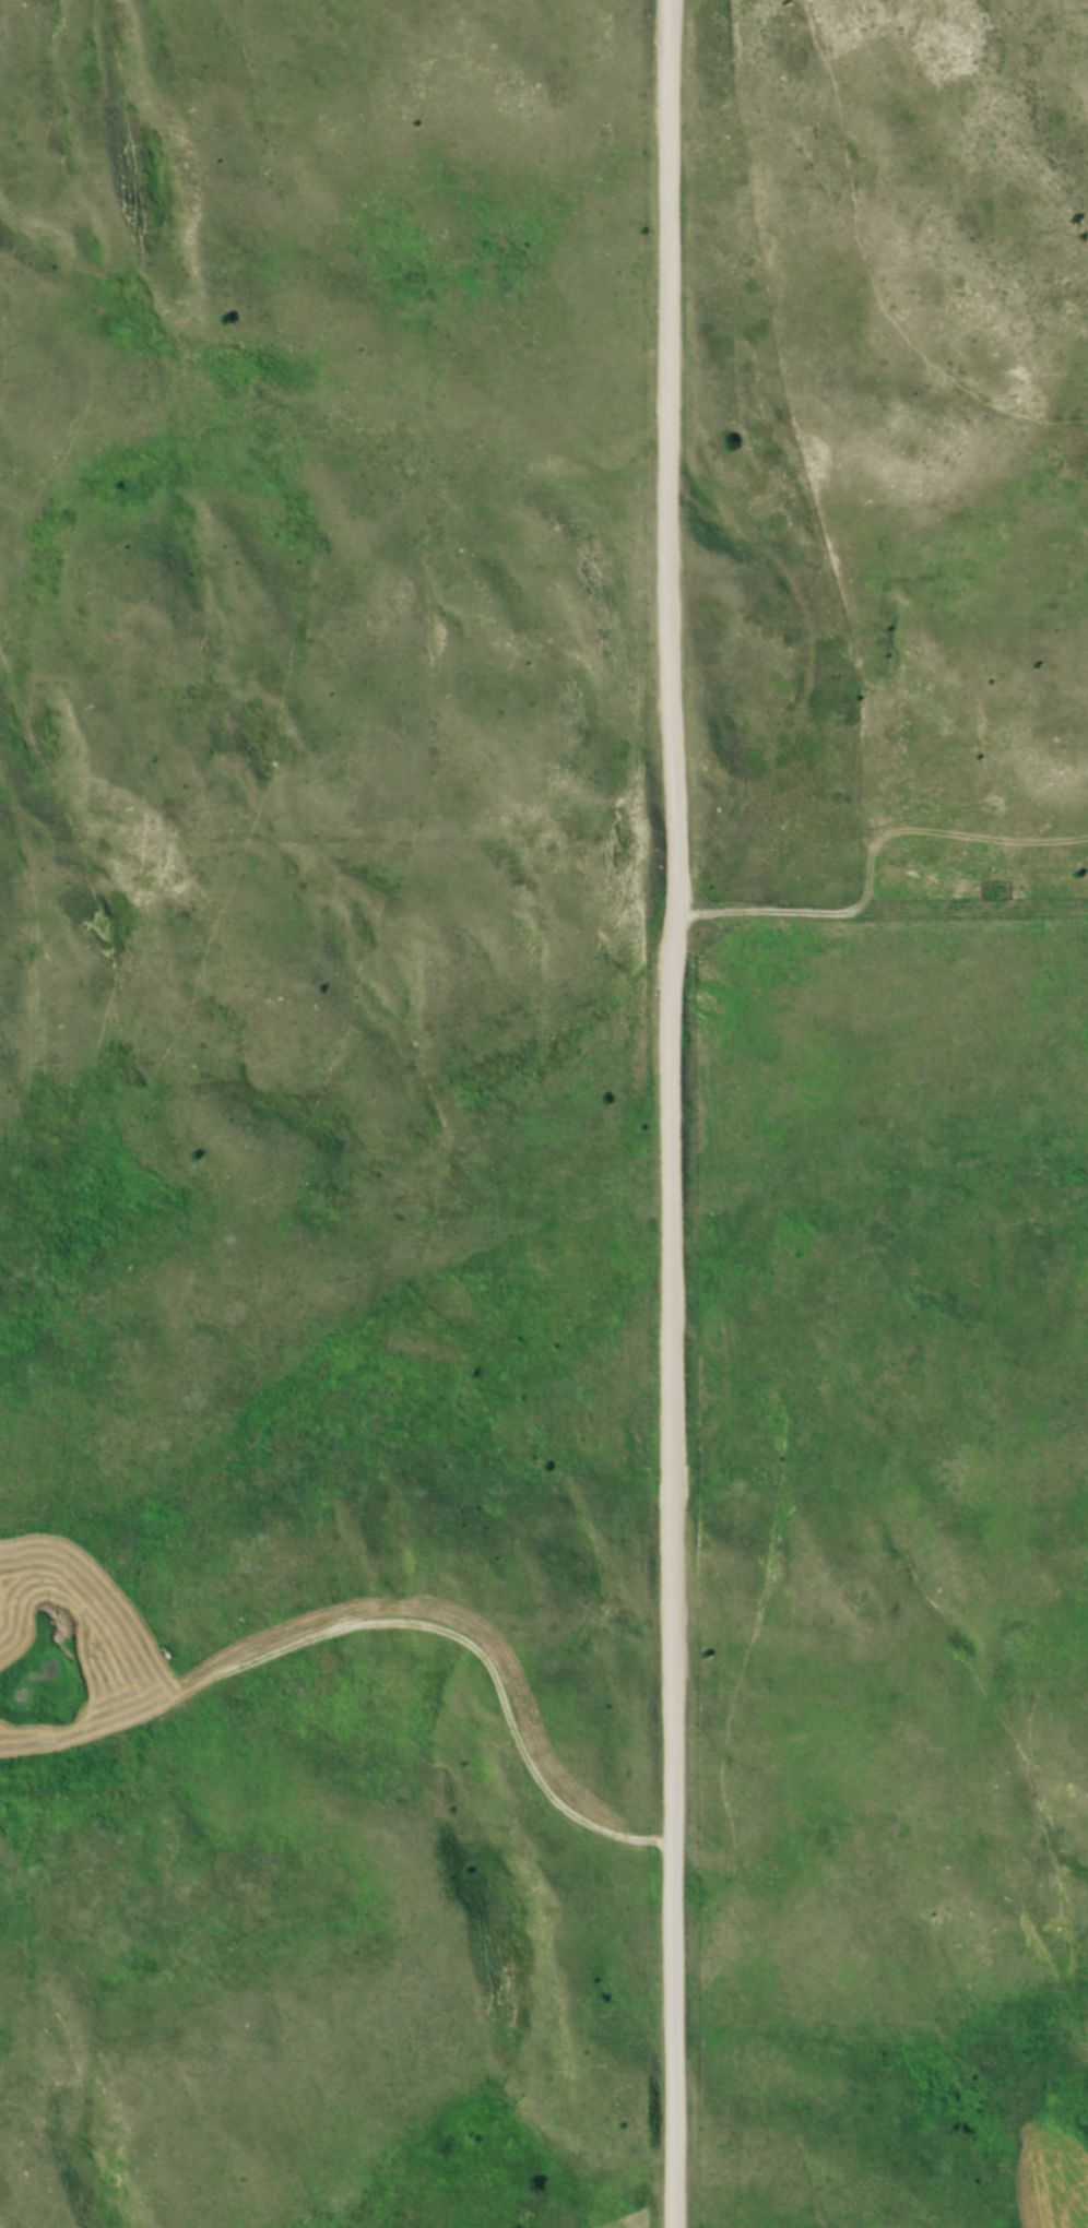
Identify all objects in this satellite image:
road: (670, 1113)

